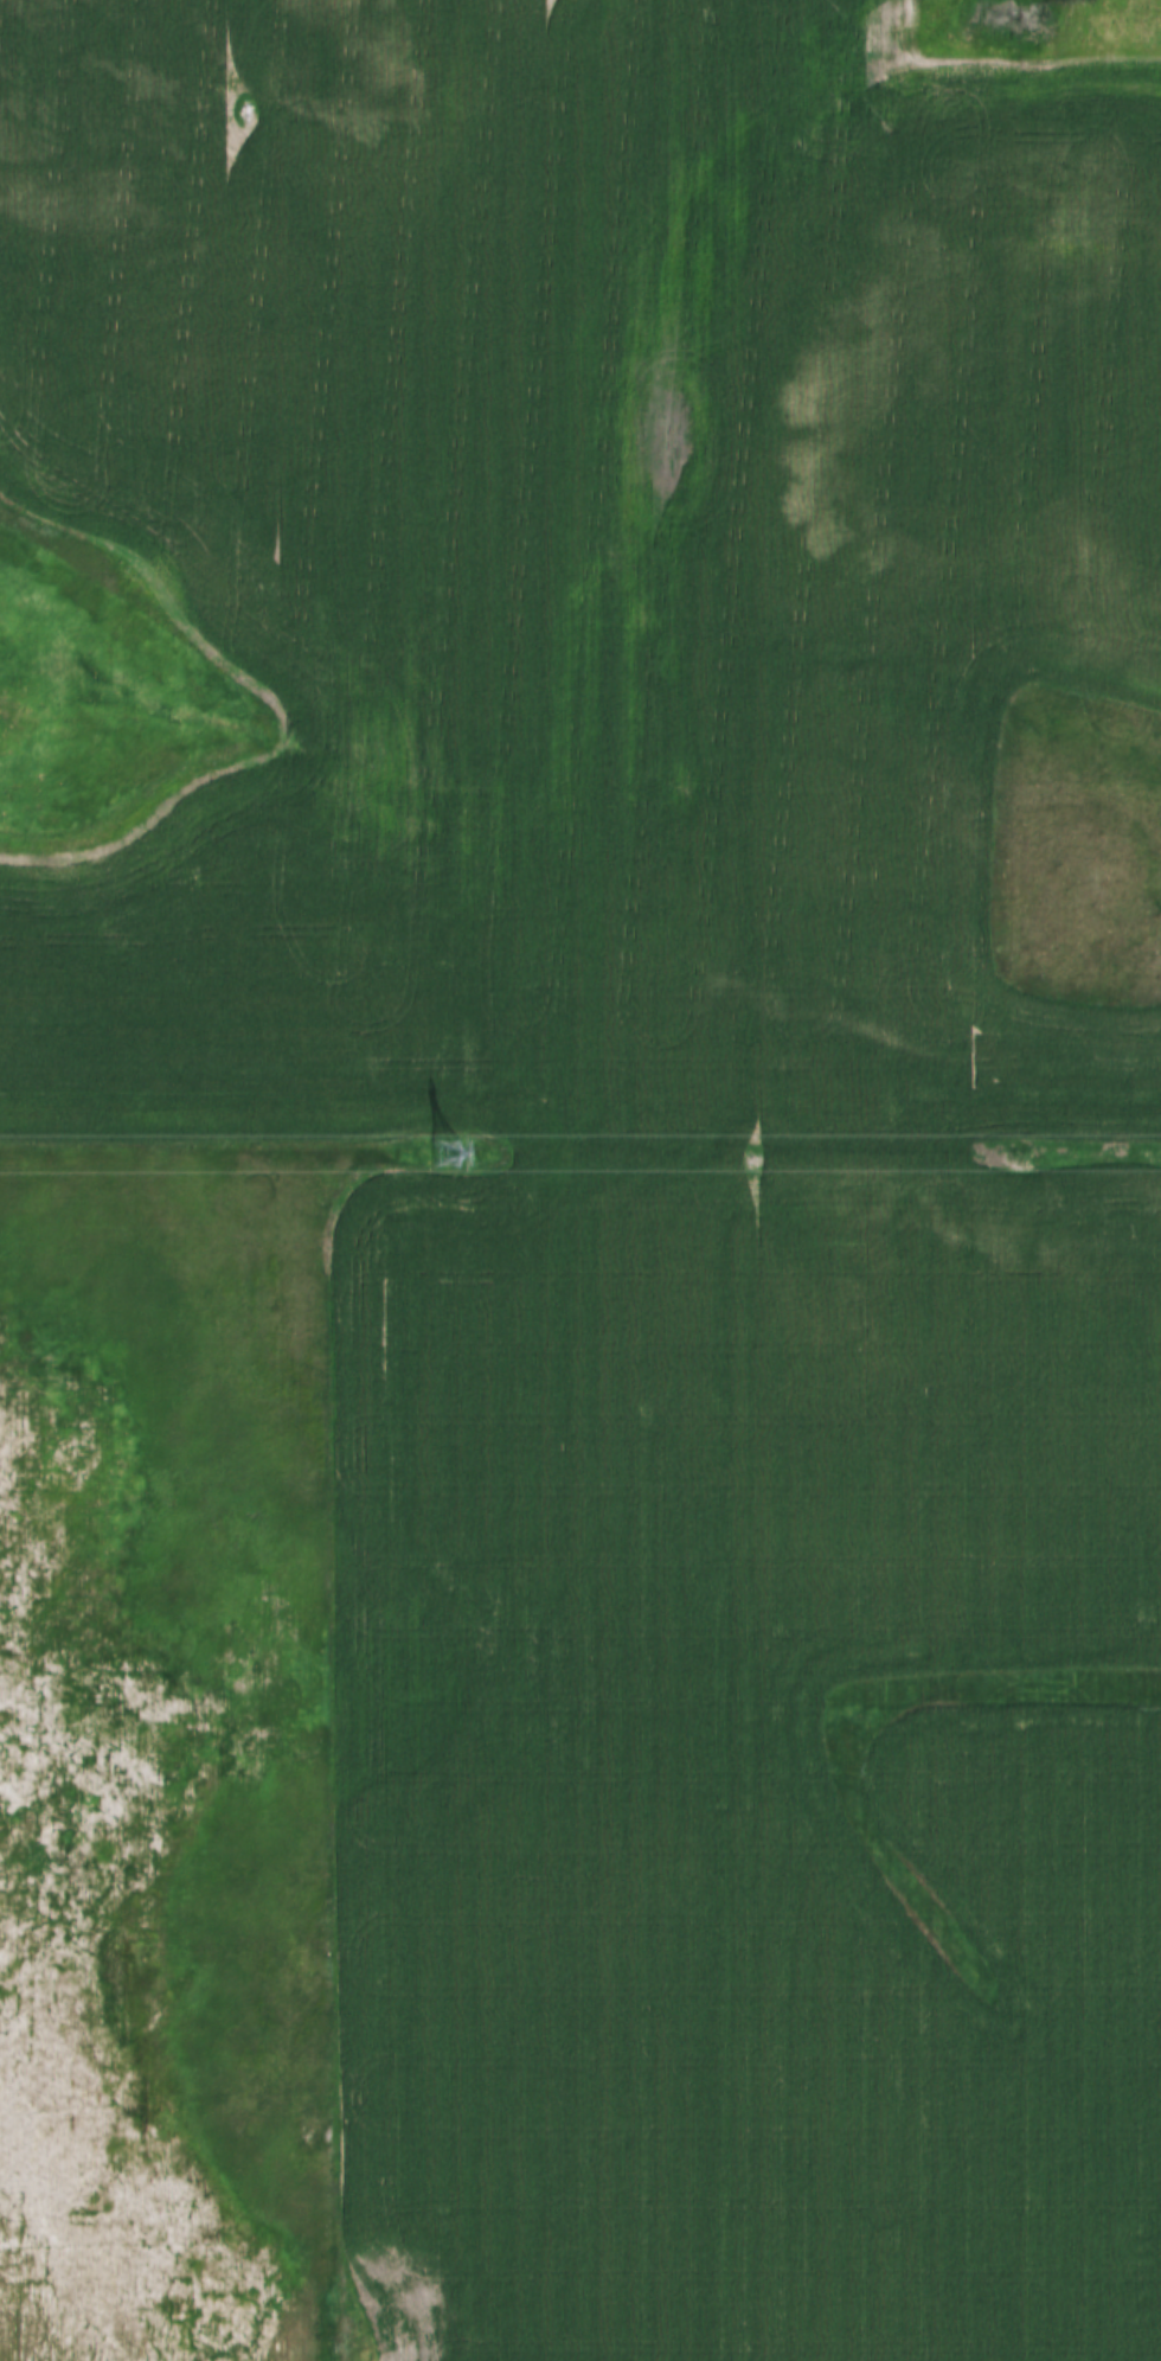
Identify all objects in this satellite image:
power tower: (444, 1151)
building: (496, 1689)

